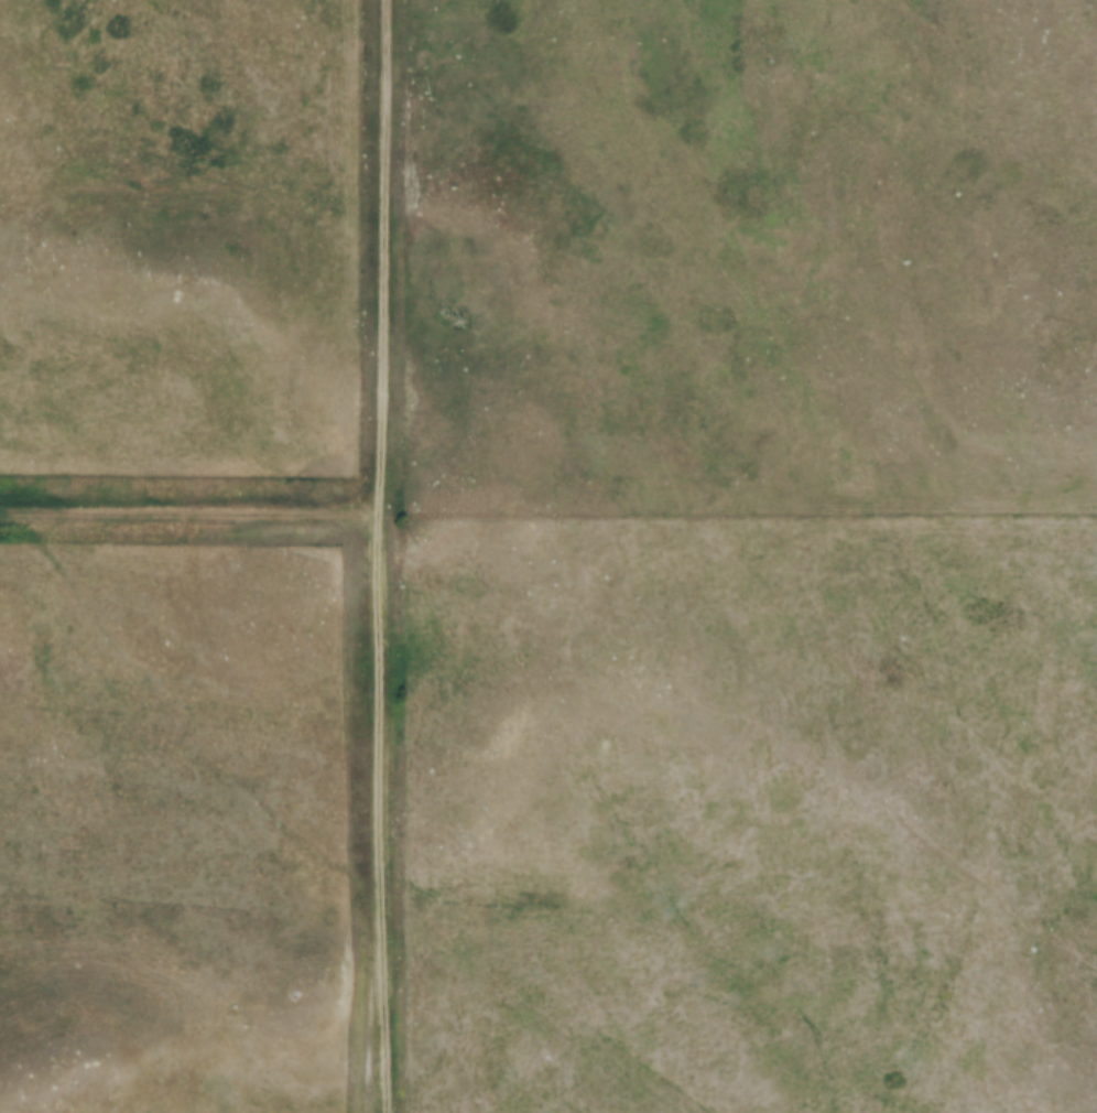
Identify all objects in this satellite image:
road: (193, 520)
road: (384, 556)

